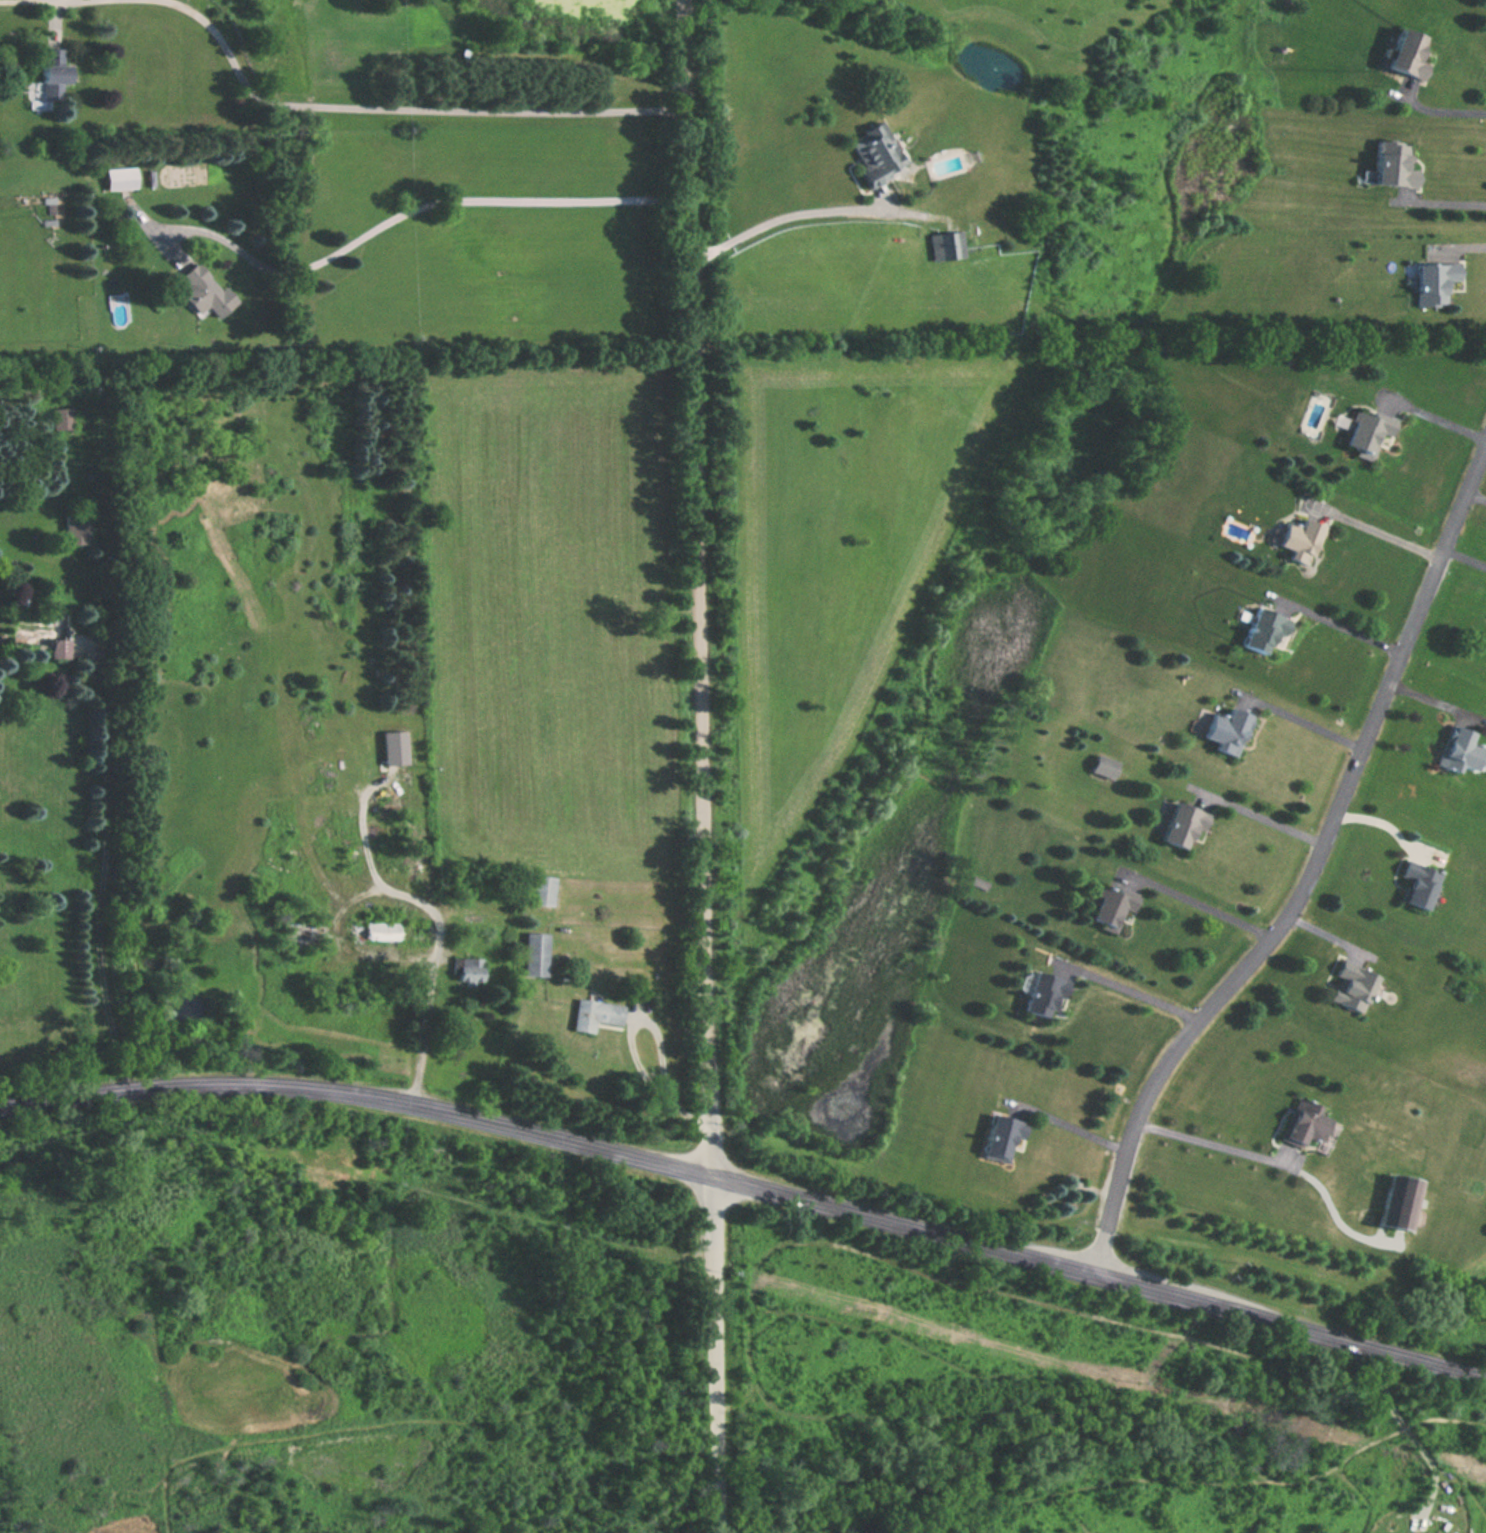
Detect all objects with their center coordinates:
road: (54, 13)
building: (1407, 56)
building: (52, 73)
road: (397, 108)
road: (1440, 110)
building: (877, 154)
building: (1393, 167)
building: (119, 179)
road: (1444, 202)
road: (419, 211)
road: (783, 217)
road: (1460, 241)
building: (938, 247)
building: (1435, 283)
building: (203, 293)
building: (117, 311)
road: (1435, 415)
building: (1368, 434)
road: (1373, 529)
building: (1300, 537)
road: (1336, 625)
building: (1263, 632)
building: (44, 636)
road: (1301, 720)
building: (1227, 730)
building: (1459, 750)
road: (704, 766)
building: (1104, 767)
road: (1259, 814)
building: (1183, 824)
road: (1384, 824)
road: (104, 871)
road: (1311, 875)
building: (1418, 883)
building: (540, 891)
road: (1200, 903)
building: (1111, 908)
road: (435, 921)
building: (382, 931)
road: (345, 947)
building: (534, 954)
building: (467, 970)
building: (1352, 986)
road: (1126, 987)
building: (1043, 995)
building: (594, 1014)
road: (654, 1028)
road: (359, 1094)
building: (1306, 1123)
road: (1067, 1124)
building: (1003, 1137)
road: (1207, 1142)
building: (1398, 1201)
road: (1098, 1277)

